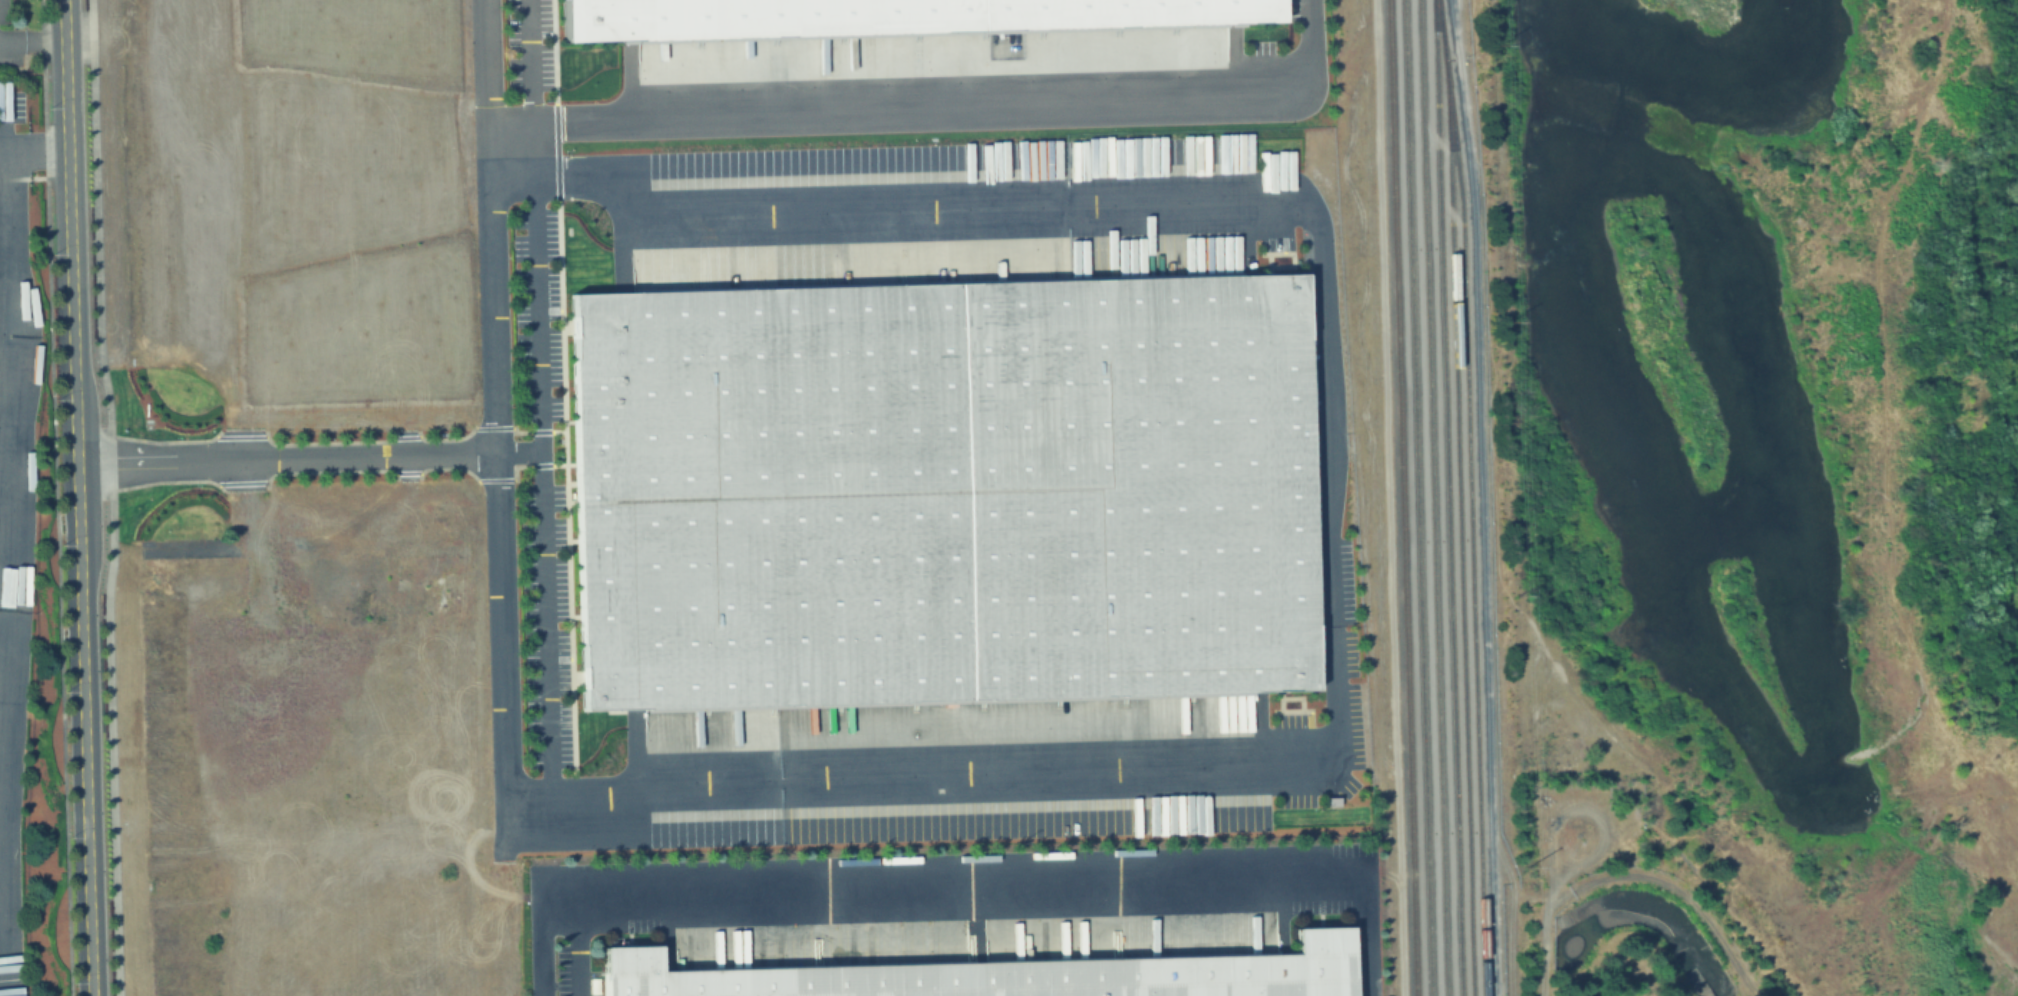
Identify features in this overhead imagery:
building: (884, 15)
road: (33, 43)
road: (487, 63)
road: (529, 63)
road: (940, 101)
road: (34, 151)
road: (490, 154)
road: (1326, 308)
road: (7, 385)
road: (522, 452)
road: (545, 487)
building: (934, 491)
road: (78, 497)
road: (111, 497)
railway: (1471, 497)
railway: (1401, 498)
railway: (1416, 498)
railway: (1433, 498)
railway: (1448, 498)
road: (1495, 498)
railway: (1459, 529)
road: (965, 894)
road: (1528, 943)
road: (576, 950)
building: (1006, 971)
railway: (1356, 987)

